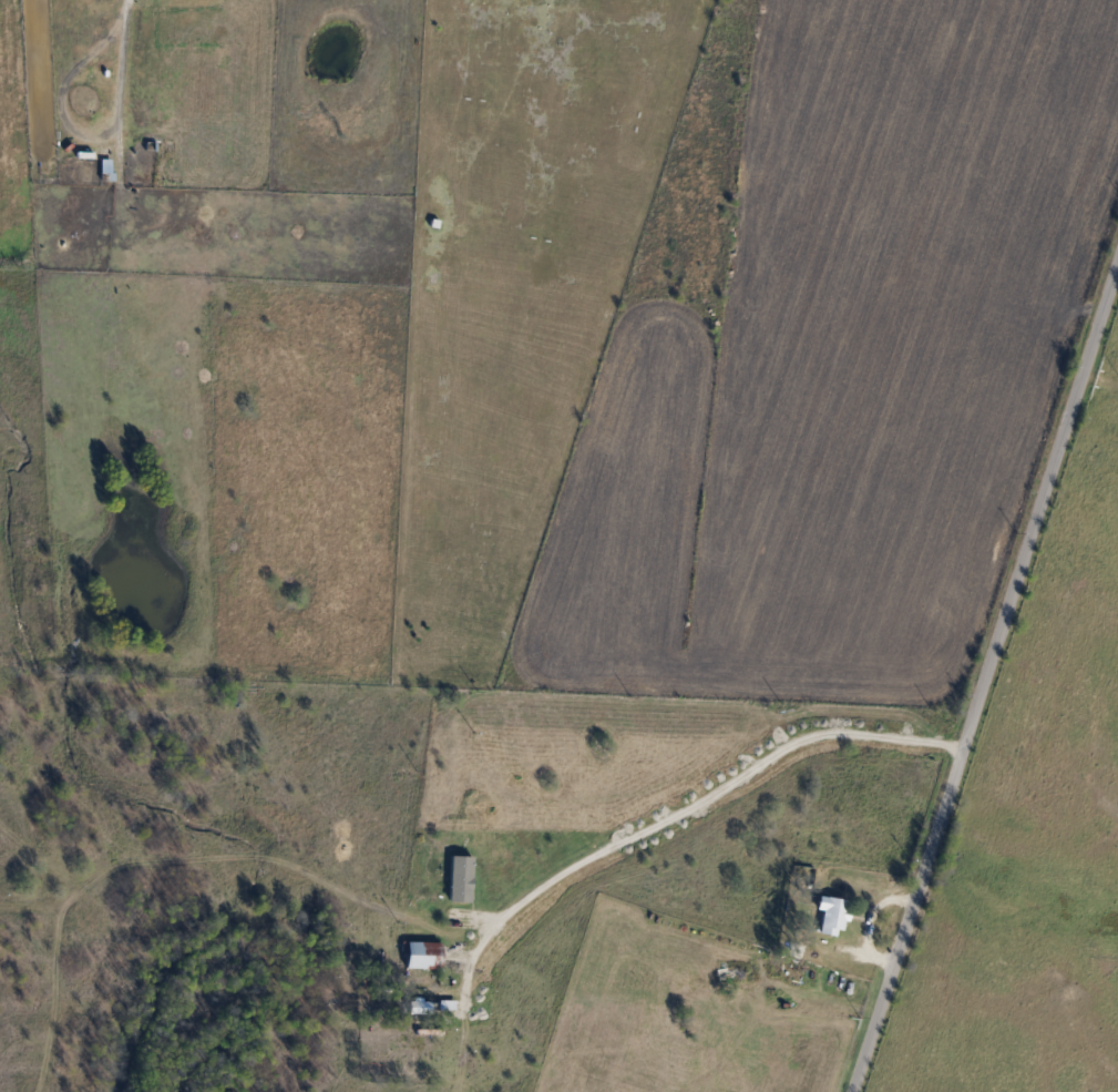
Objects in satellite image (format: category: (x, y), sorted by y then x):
road: (125, 34)
road: (985, 680)
road: (722, 785)
building: (831, 916)
building: (422, 955)
building: (763, 976)
building: (419, 1008)

